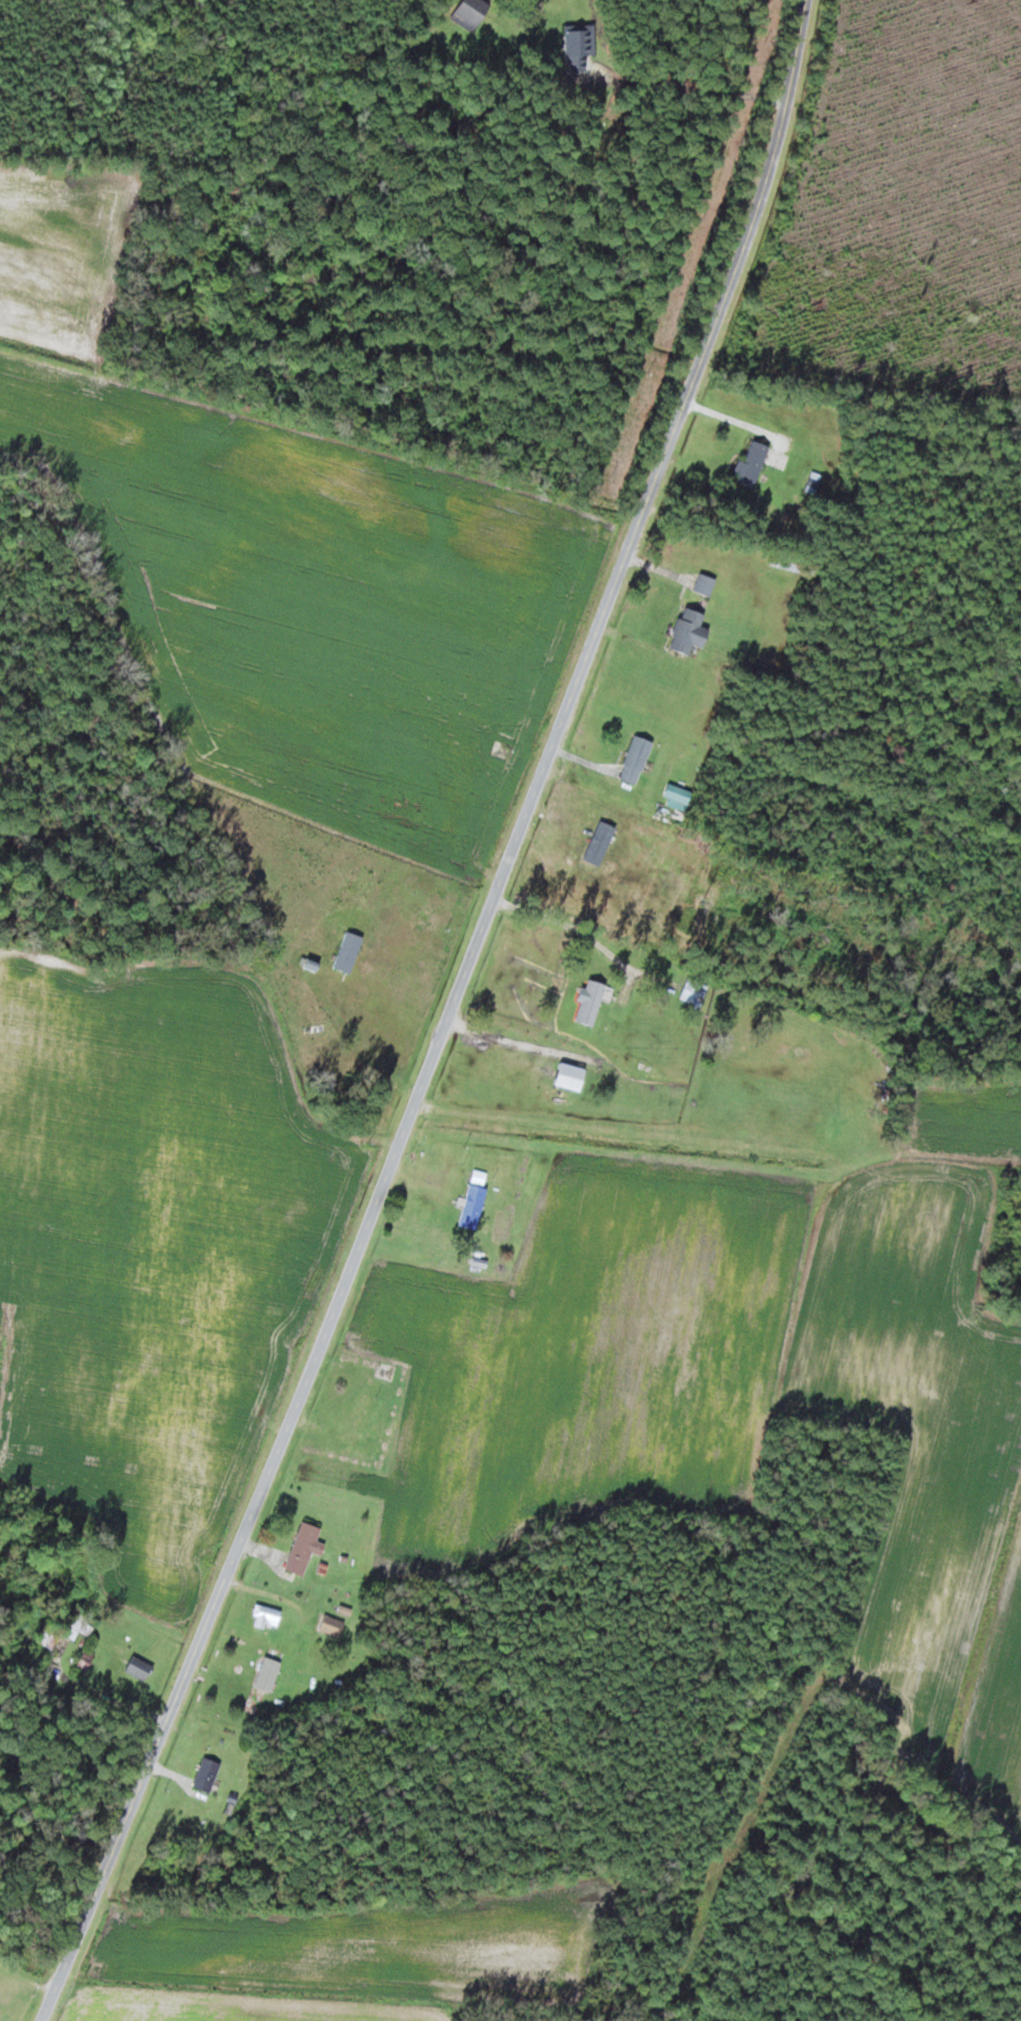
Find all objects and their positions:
building: (472, 12)
building: (580, 46)
building: (753, 462)
building: (815, 479)
building: (700, 597)
building: (637, 759)
building: (682, 793)
building: (350, 951)
building: (696, 990)
building: (592, 1001)
road: (445, 1019)
building: (573, 1076)
building: (444, 1174)
building: (474, 1205)
building: (306, 1546)
building: (268, 1615)
building: (84, 1620)
building: (333, 1624)
building: (52, 1634)
building: (24, 1654)
building: (86, 1660)
building: (140, 1667)
building: (268, 1678)
building: (208, 1774)

